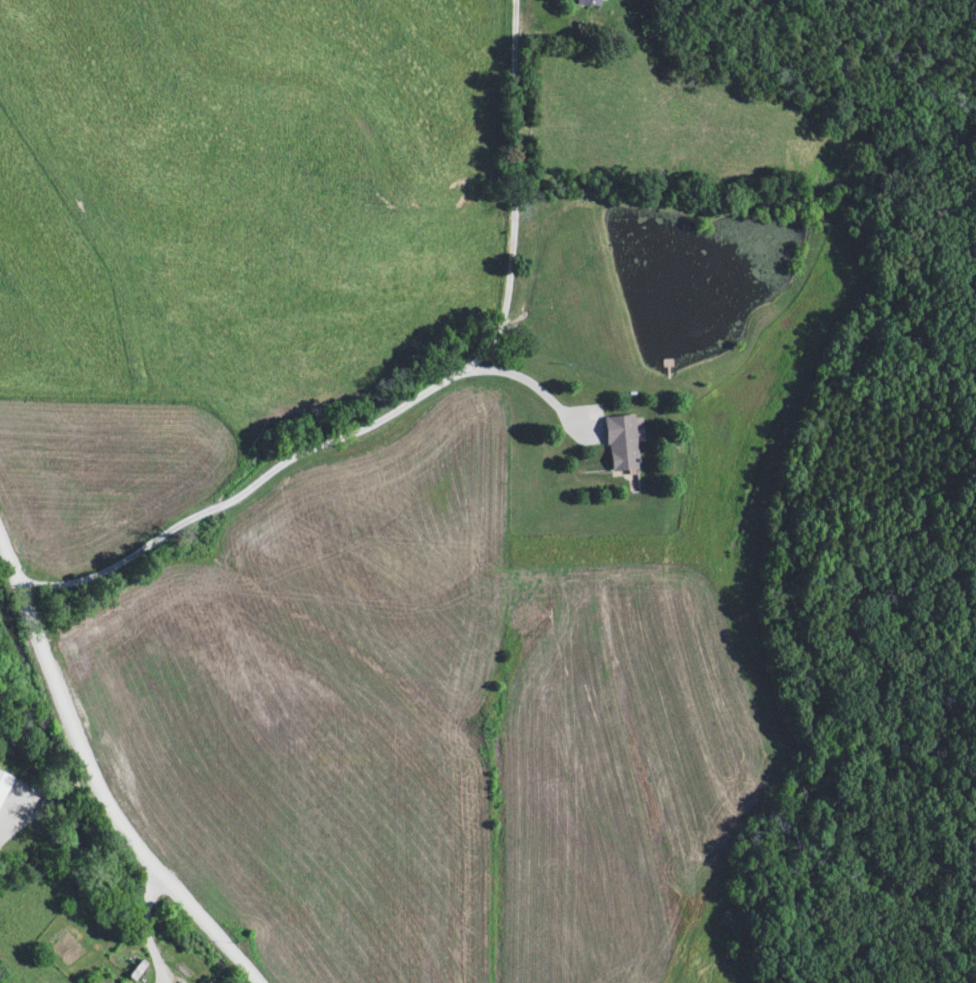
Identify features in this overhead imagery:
building: (588, 2)
road: (525, 381)
road: (413, 398)
building: (621, 444)
road: (96, 778)
building: (4, 786)
road: (150, 929)
building: (136, 970)

